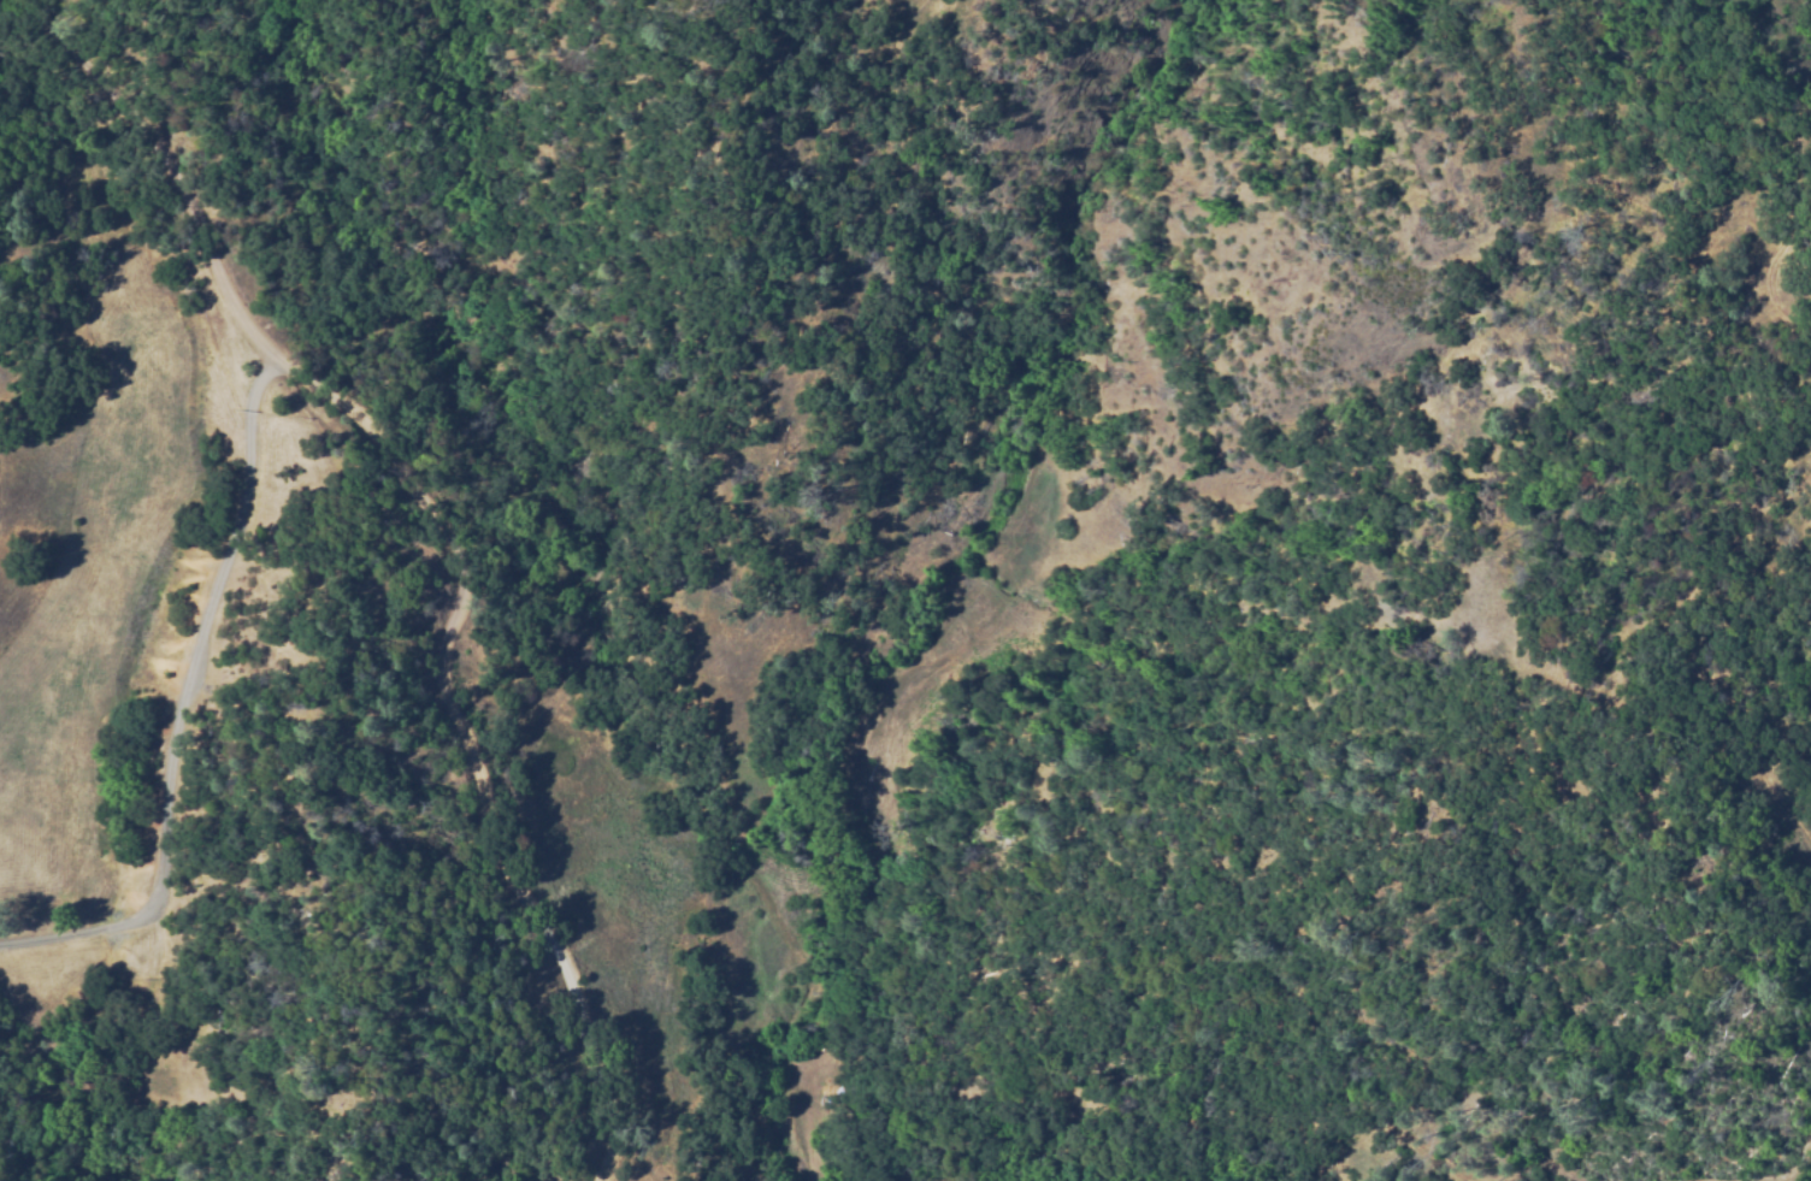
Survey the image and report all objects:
road: (431, 529)
road: (188, 705)

